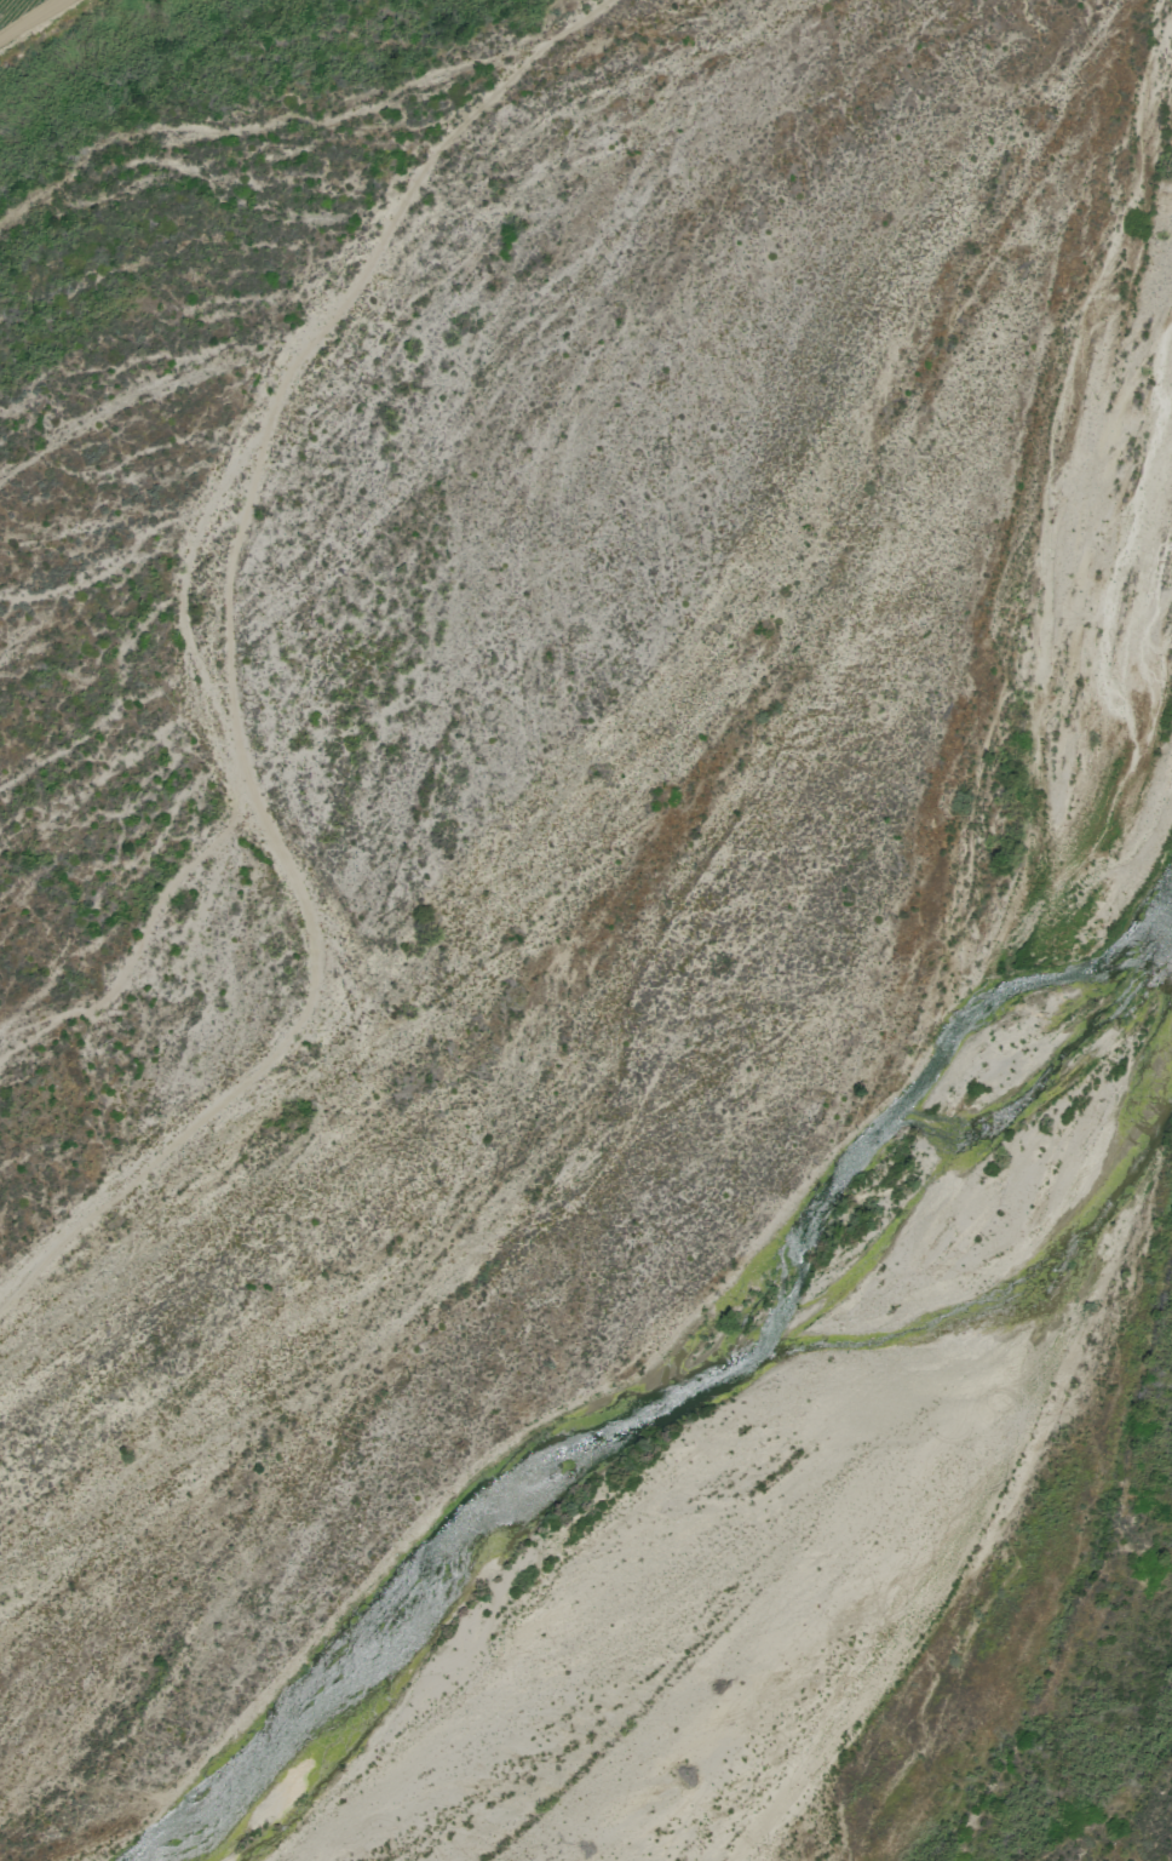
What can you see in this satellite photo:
crop: (27, 24)

